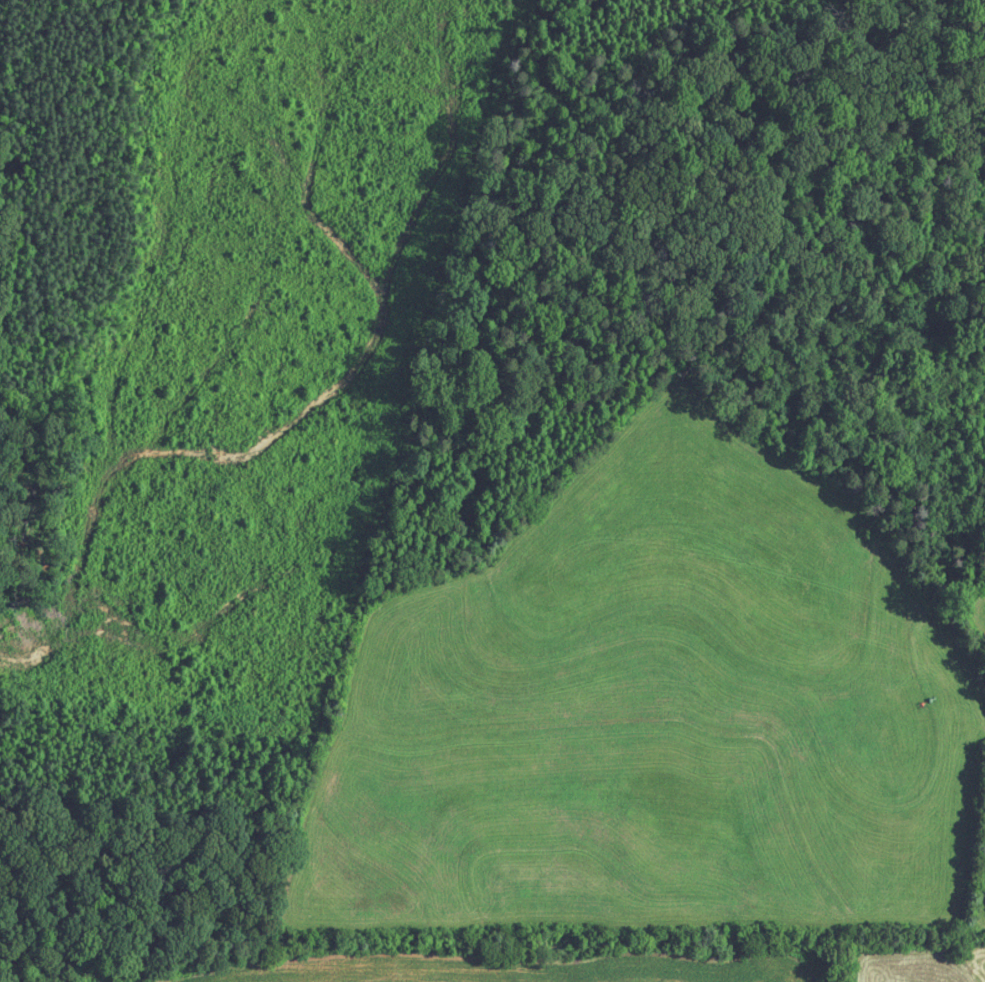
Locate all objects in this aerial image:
road: (372, 529)

